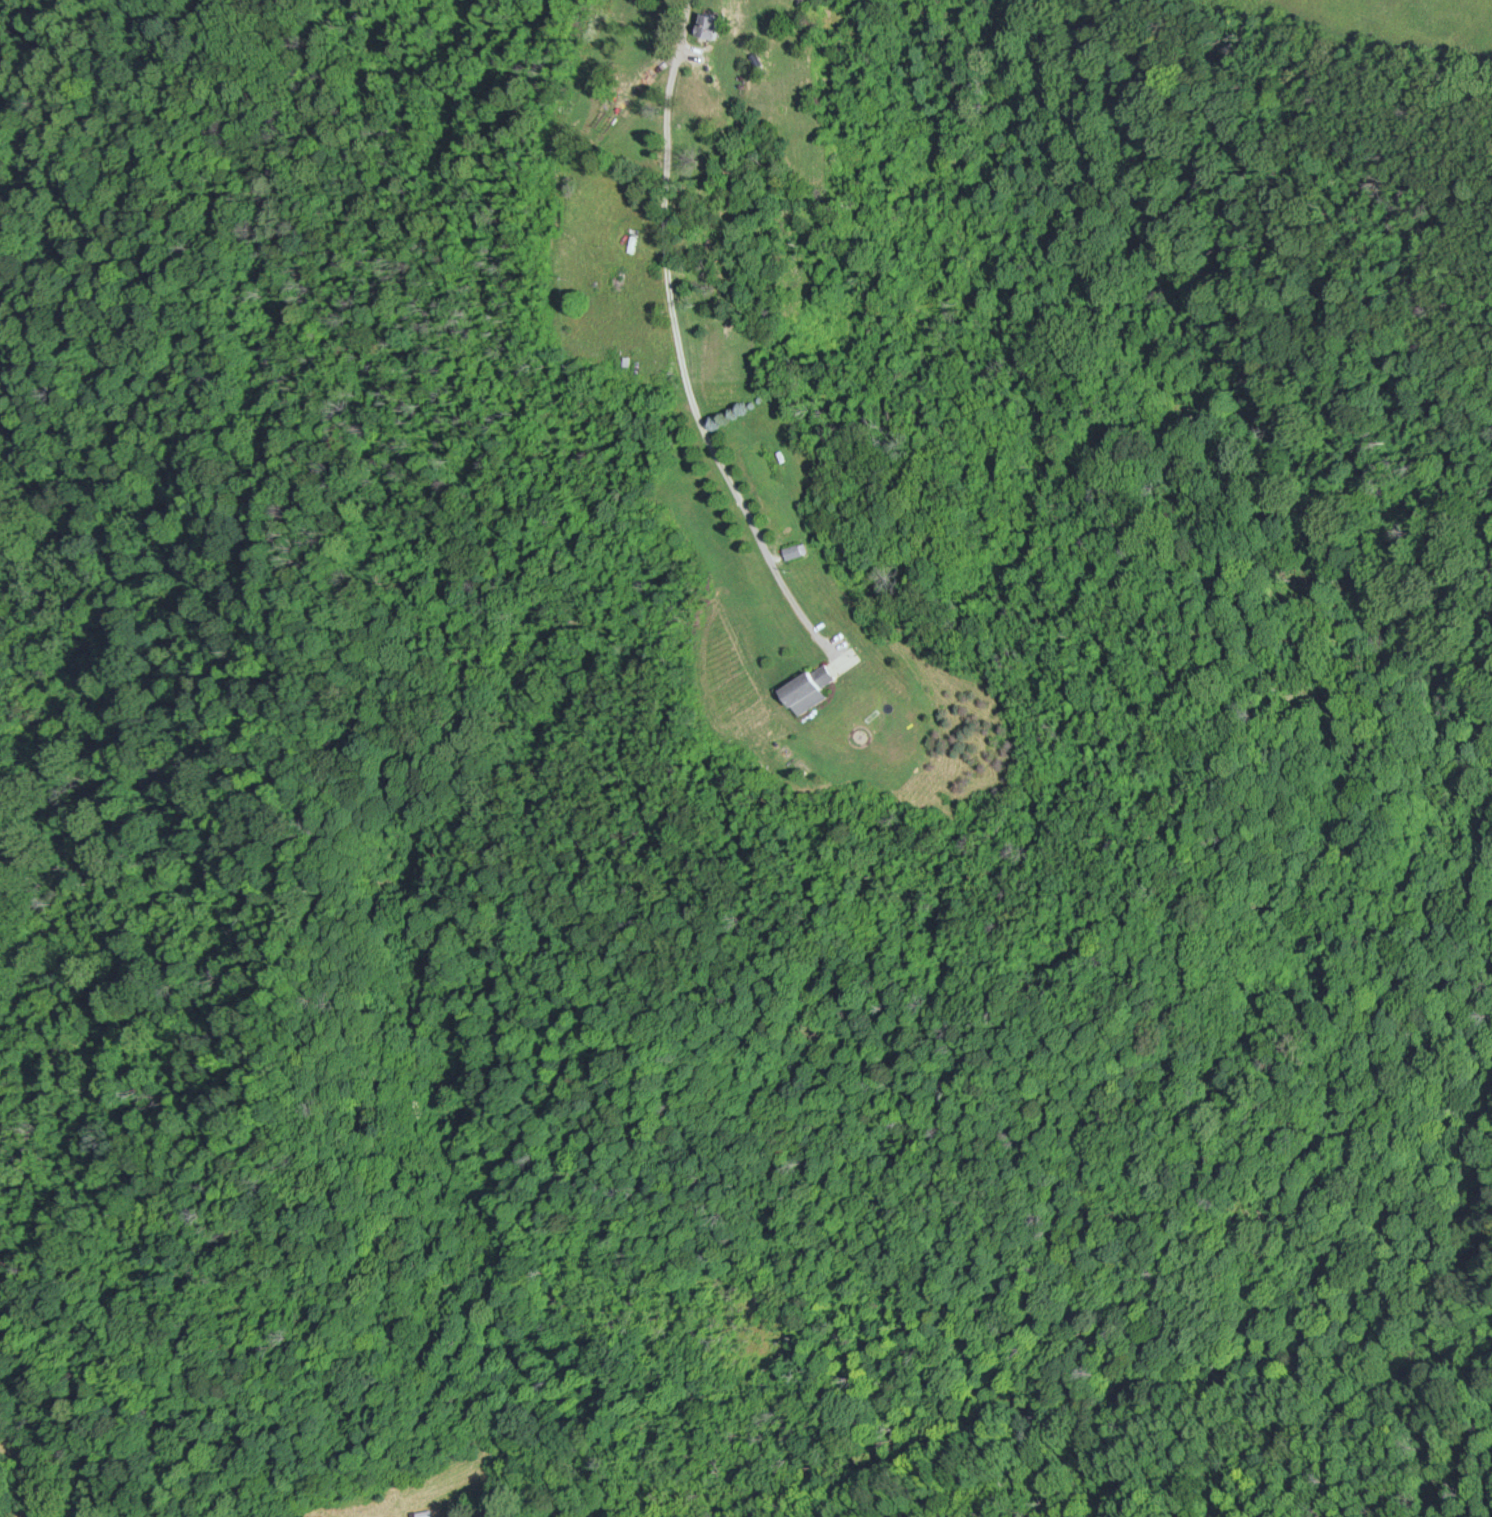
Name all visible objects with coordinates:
building: (710, 26)
road: (677, 345)
building: (797, 551)
building: (809, 690)
building: (425, 1513)

